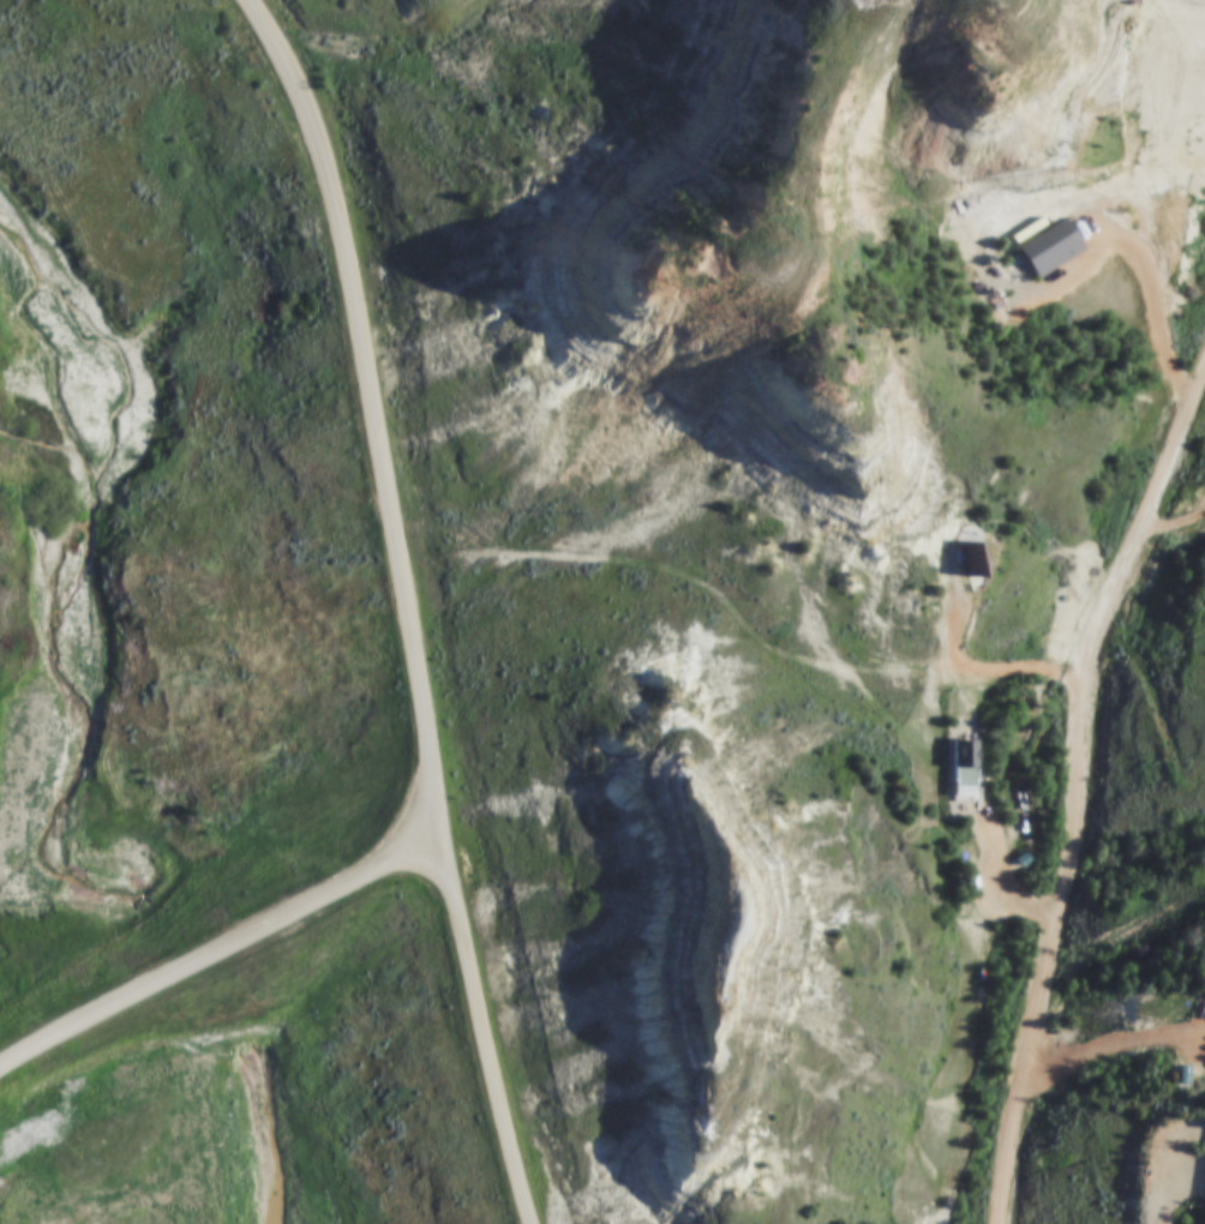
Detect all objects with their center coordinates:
building: (1043, 248)
road: (1163, 313)
road: (1177, 526)
building: (969, 568)
road: (406, 605)
road: (990, 679)
building: (955, 768)
road: (1078, 800)
road: (1003, 868)
road: (223, 944)
building: (1204, 989)
road: (1104, 1048)
road: (1167, 1184)
building: (1204, 1210)

